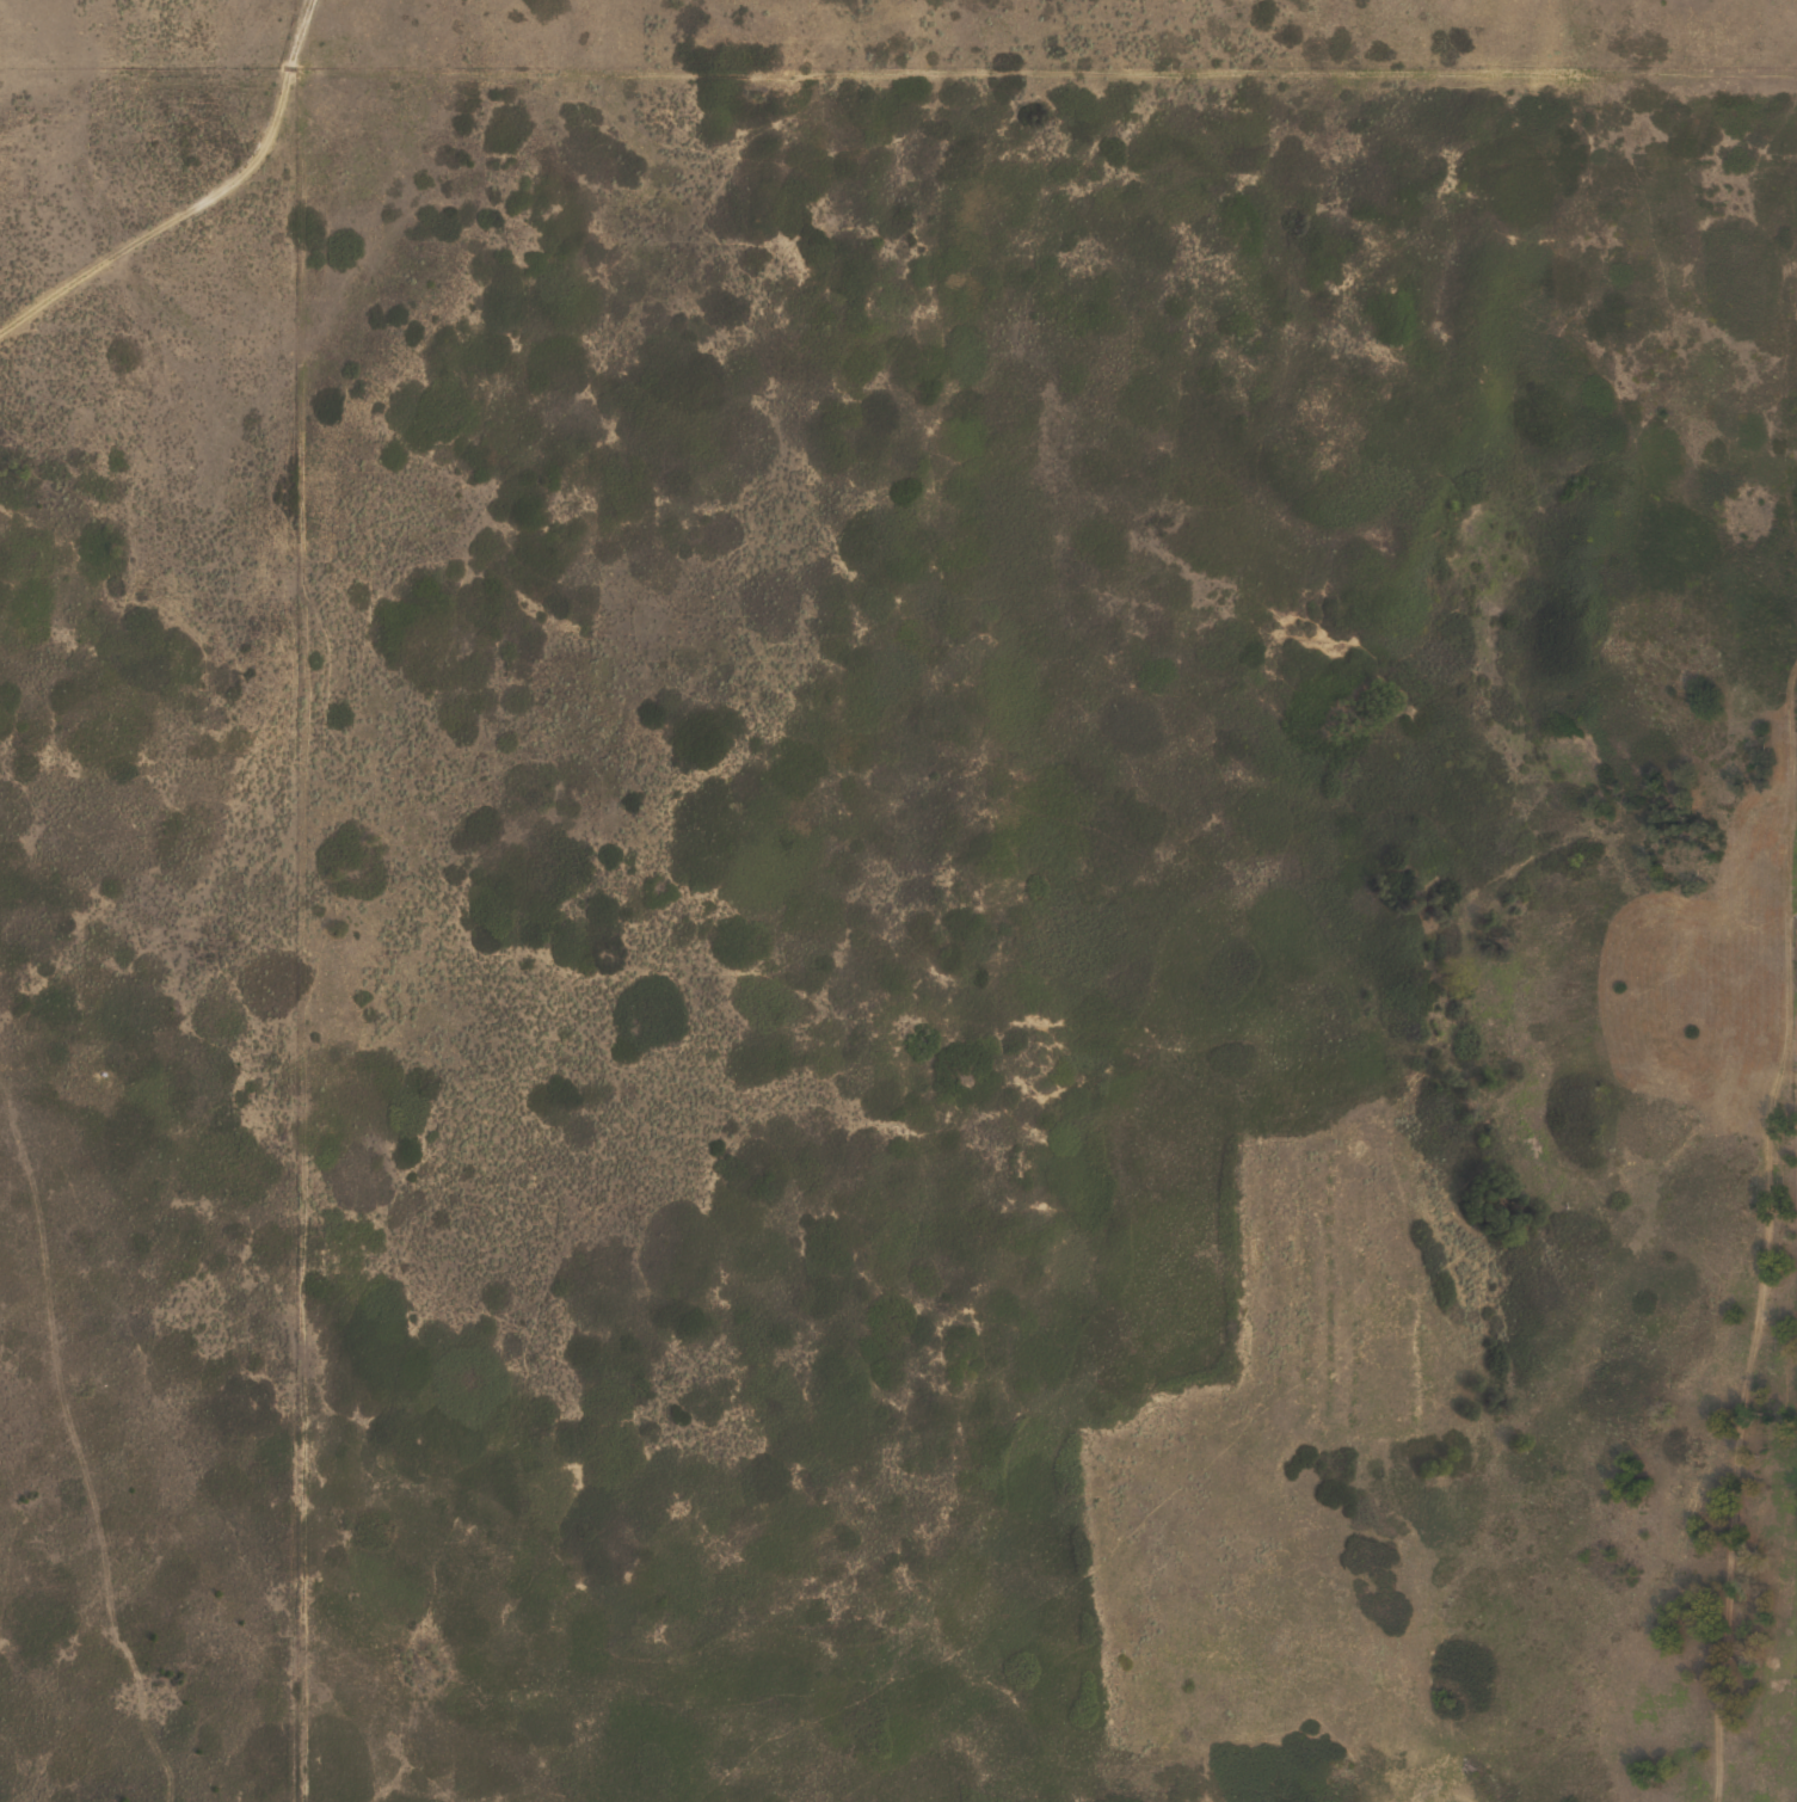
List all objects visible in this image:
road: (184, 113)
road: (1748, 1259)

